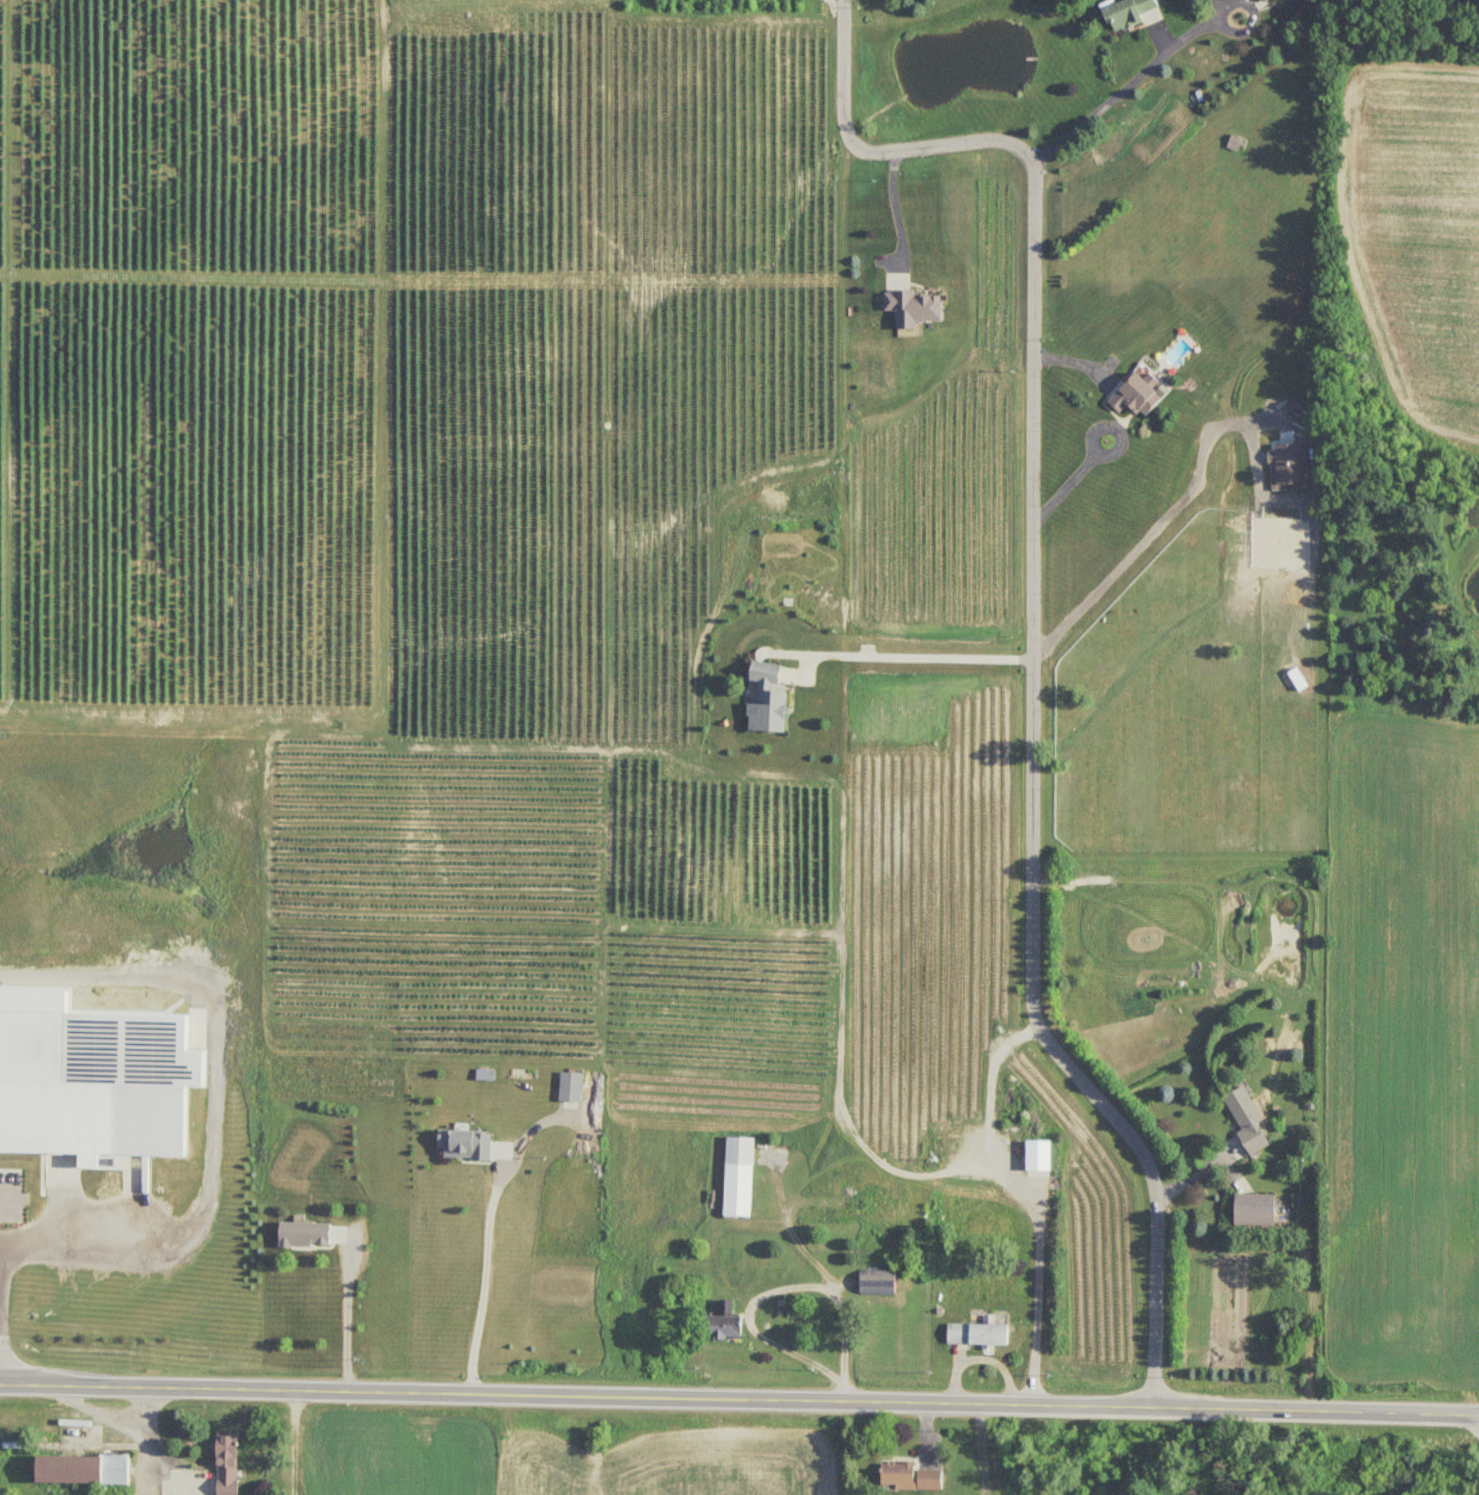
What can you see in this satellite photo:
building: (1258, 0)
building: (1278, 0)
building: (1128, 13)
road: (1133, 82)
building: (1237, 144)
road: (898, 211)
building: (913, 309)
road: (1078, 361)
building: (1138, 394)
road: (1095, 436)
road: (1067, 488)
road: (1153, 522)
road: (1033, 637)
road: (916, 657)
building: (767, 701)
building: (571, 1088)
road: (213, 1101)
building: (1247, 1119)
building: (465, 1145)
building: (1038, 1160)
building: (739, 1178)
road: (7, 1192)
road: (1033, 1193)
building: (1255, 1211)
road: (795, 1230)
building: (304, 1237)
road: (487, 1276)
road: (786, 1284)
building: (878, 1284)
road: (348, 1325)
building: (723, 1325)
building: (978, 1336)
road: (983, 1358)
road: (739, 1400)
road: (132, 1425)
road: (146, 1443)
road: (296, 1443)
road: (979, 1450)
building: (227, 1465)
building: (83, 1469)
quarry: (1382, 1469)
building: (910, 1477)

